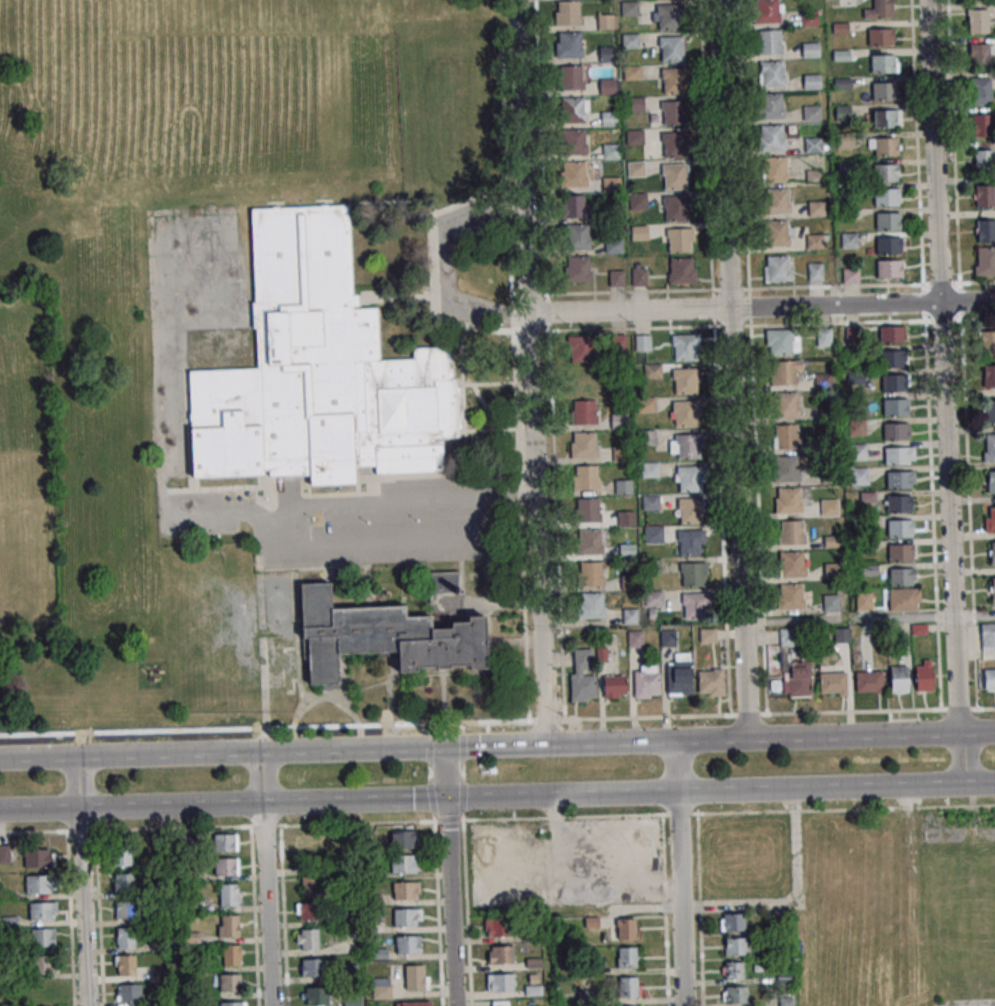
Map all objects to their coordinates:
building: (629, 8)
building: (880, 9)
building: (767, 11)
building: (567, 12)
building: (670, 17)
building: (607, 21)
building: (978, 21)
building: (880, 37)
building: (630, 41)
building: (770, 41)
building: (569, 45)
building: (672, 49)
building: (810, 50)
building: (981, 55)
building: (883, 63)
building: (632, 72)
building: (772, 74)
building: (571, 77)
building: (675, 80)
building: (811, 81)
building: (608, 86)
building: (980, 90)
building: (883, 91)
building: (634, 104)
building: (771, 106)
building: (574, 109)
building: (674, 113)
building: (811, 113)
building: (886, 118)
building: (982, 125)
building: (635, 137)
building: (771, 137)
building: (574, 142)
building: (675, 144)
building: (812, 144)
building: (884, 146)
building: (609, 152)
building: (984, 160)
building: (635, 169)
building: (776, 169)
building: (886, 172)
building: (573, 174)
building: (675, 176)
building: (611, 184)
building: (984, 196)
building: (887, 197)
building: (638, 201)
building: (777, 201)
building: (572, 206)
building: (676, 208)
building: (816, 209)
building: (889, 221)
building: (985, 231)
building: (639, 233)
building: (778, 233)
building: (578, 236)
building: (680, 240)
building: (848, 240)
building: (814, 241)
building: (613, 245)
building: (890, 245)
building: (985, 261)
road: (447, 263)
building: (777, 268)
building: (577, 269)
building: (889, 269)
building: (682, 271)
building: (815, 272)
building: (639, 276)
building: (616, 278)
road: (761, 308)
building: (892, 334)
building: (824, 337)
park: (99, 342)
building: (642, 342)
building: (782, 342)
building: (988, 343)
building: (686, 347)
building: (580, 348)
building: (893, 358)
road: (940, 368)
building: (653, 371)
road: (731, 371)
building: (319, 372)
road: (530, 373)
building: (786, 373)
building: (988, 376)
building: (686, 381)
building: (822, 381)
building: (894, 383)
building: (646, 404)
building: (787, 404)
building: (896, 407)
building: (990, 411)
building: (583, 412)
building: (686, 414)
building: (619, 421)
building: (896, 431)
building: (785, 436)
building: (648, 437)
building: (583, 445)
building: (688, 446)
building: (988, 448)
building: (899, 455)
building: (786, 468)
building: (650, 469)
building: (859, 476)
building: (586, 477)
building: (690, 479)
building: (899, 479)
building: (991, 482)
building: (624, 487)
building: (788, 500)
building: (651, 502)
building: (898, 504)
building: (829, 508)
building: (588, 510)
building: (691, 511)
building: (625, 518)
building: (989, 519)
building: (900, 527)
building: (790, 532)
building: (653, 534)
building: (591, 541)
building: (690, 542)
road: (356, 546)
building: (900, 552)
building: (991, 552)
building: (791, 564)
building: (652, 566)
building: (832, 571)
building: (592, 573)
building: (693, 574)
building: (902, 576)
building: (444, 583)
building: (992, 588)
building: (791, 596)
building: (903, 599)
building: (864, 600)
building: (831, 603)
building: (650, 604)
building: (591, 605)
building: (696, 606)
building: (630, 616)
road: (868, 617)
building: (707, 635)
building: (382, 637)
building: (789, 637)
building: (988, 637)
building: (668, 638)
building: (635, 639)
building: (274, 661)
building: (583, 675)
building: (678, 675)
building: (925, 676)
building: (797, 679)
building: (899, 679)
building: (990, 679)
building: (646, 681)
building: (869, 681)
building: (711, 682)
building: (832, 684)
building: (614, 686)
road: (748, 715)
road: (771, 741)
road: (496, 748)
traffic signals: (445, 749)
road: (222, 756)
road: (965, 758)
road: (678, 766)
road: (446, 771)
road: (263, 777)
road: (78, 782)
road: (497, 792)
traffic signals: (447, 794)
road: (728, 813)
road: (231, 826)
building: (403, 839)
building: (225, 842)
building: (309, 847)
building: (122, 856)
building: (39, 857)
building: (403, 864)
building: (226, 866)
building: (124, 881)
building: (39, 884)
building: (310, 885)
building: (406, 891)
building: (229, 895)
road: (680, 897)
road: (450, 900)
road: (266, 902)
road: (82, 905)
building: (126, 910)
building: (43, 911)
building: (308, 911)
building: (407, 917)
building: (732, 922)
building: (229, 926)
building: (855, 927)
building: (499, 928)
building: (626, 928)
building: (42, 937)
building: (125, 937)
building: (307, 939)
building: (408, 944)
building: (735, 946)
building: (232, 955)
building: (500, 955)
building: (627, 957)
building: (42, 964)
building: (125, 965)
building: (313, 967)
building: (733, 971)
building: (417, 977)
building: (230, 983)
building: (499, 983)
building: (629, 987)
building: (382, 989)
building: (129, 993)
building: (734, 995)
building: (316, 996)
building: (500, 1003)

